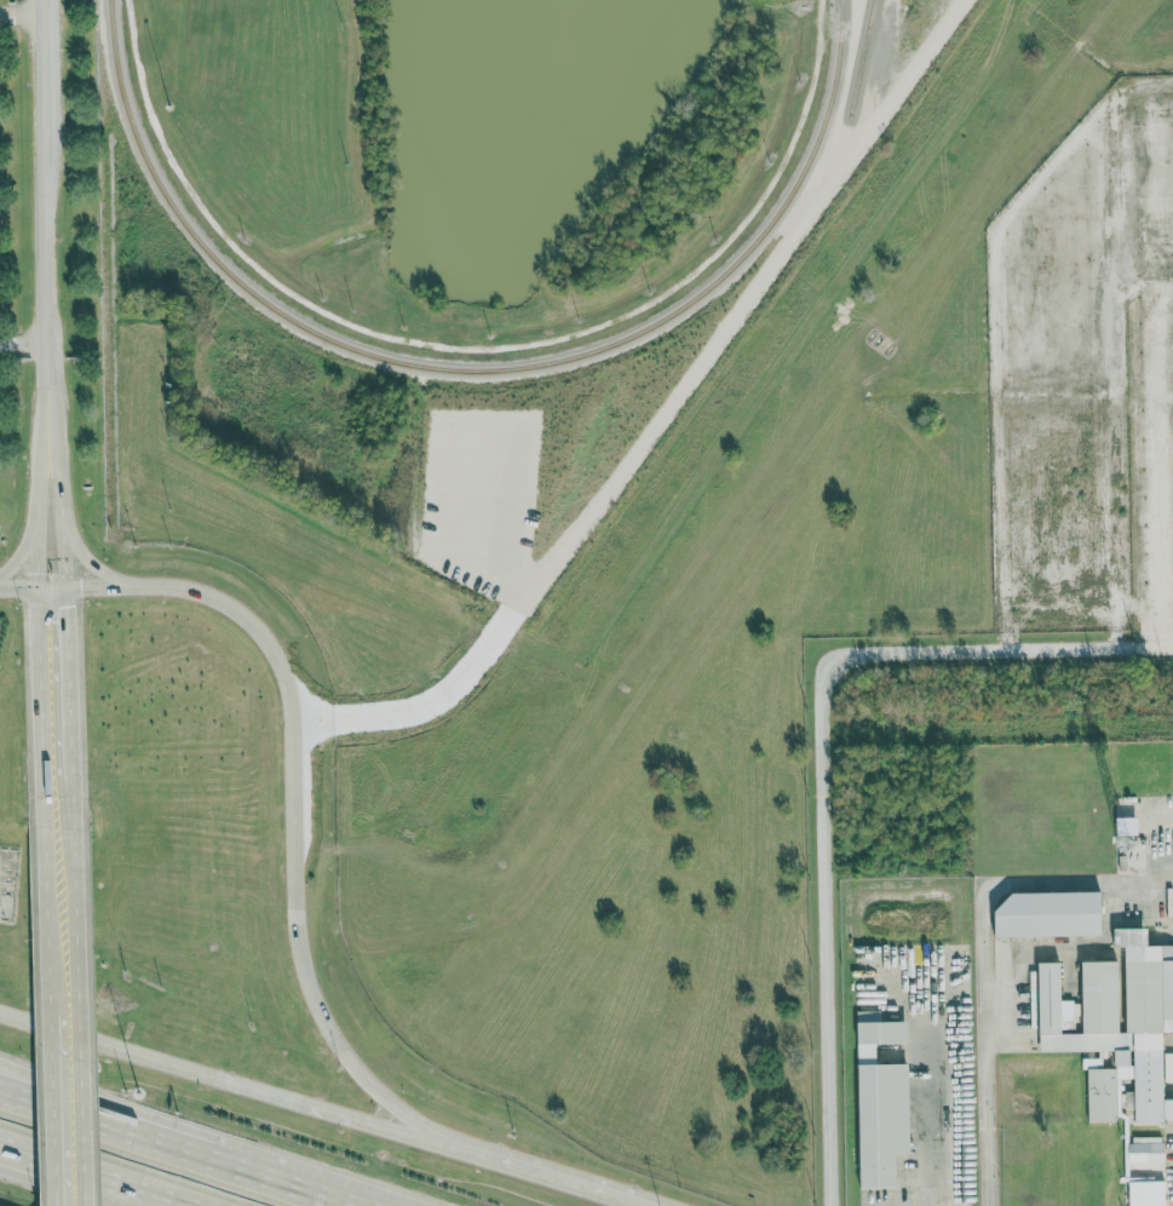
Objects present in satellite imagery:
road: (21, 16)
road: (44, 194)
railway: (477, 369)
road: (53, 419)
road: (42, 420)
road: (39, 517)
road: (61, 517)
road: (25, 542)
road: (93, 564)
traffic signals: (40, 572)
road: (99, 584)
traffic signals: (81, 585)
road: (19, 586)
traffic signals: (68, 608)
road: (69, 679)
road: (44, 706)
road: (826, 765)
road: (71, 800)
building: (1129, 825)
road: (294, 877)
building: (1053, 913)
road: (51, 920)
road: (984, 949)
road: (81, 1016)
building: (1119, 1023)
road: (52, 1027)
road: (67, 1091)
road: (67, 1096)
road: (295, 1101)
building: (884, 1101)
road: (936, 1105)
road: (59, 1109)
building: (1148, 1152)
road: (258, 1162)
road: (90, 1176)
road: (563, 1182)
building: (1149, 1193)

